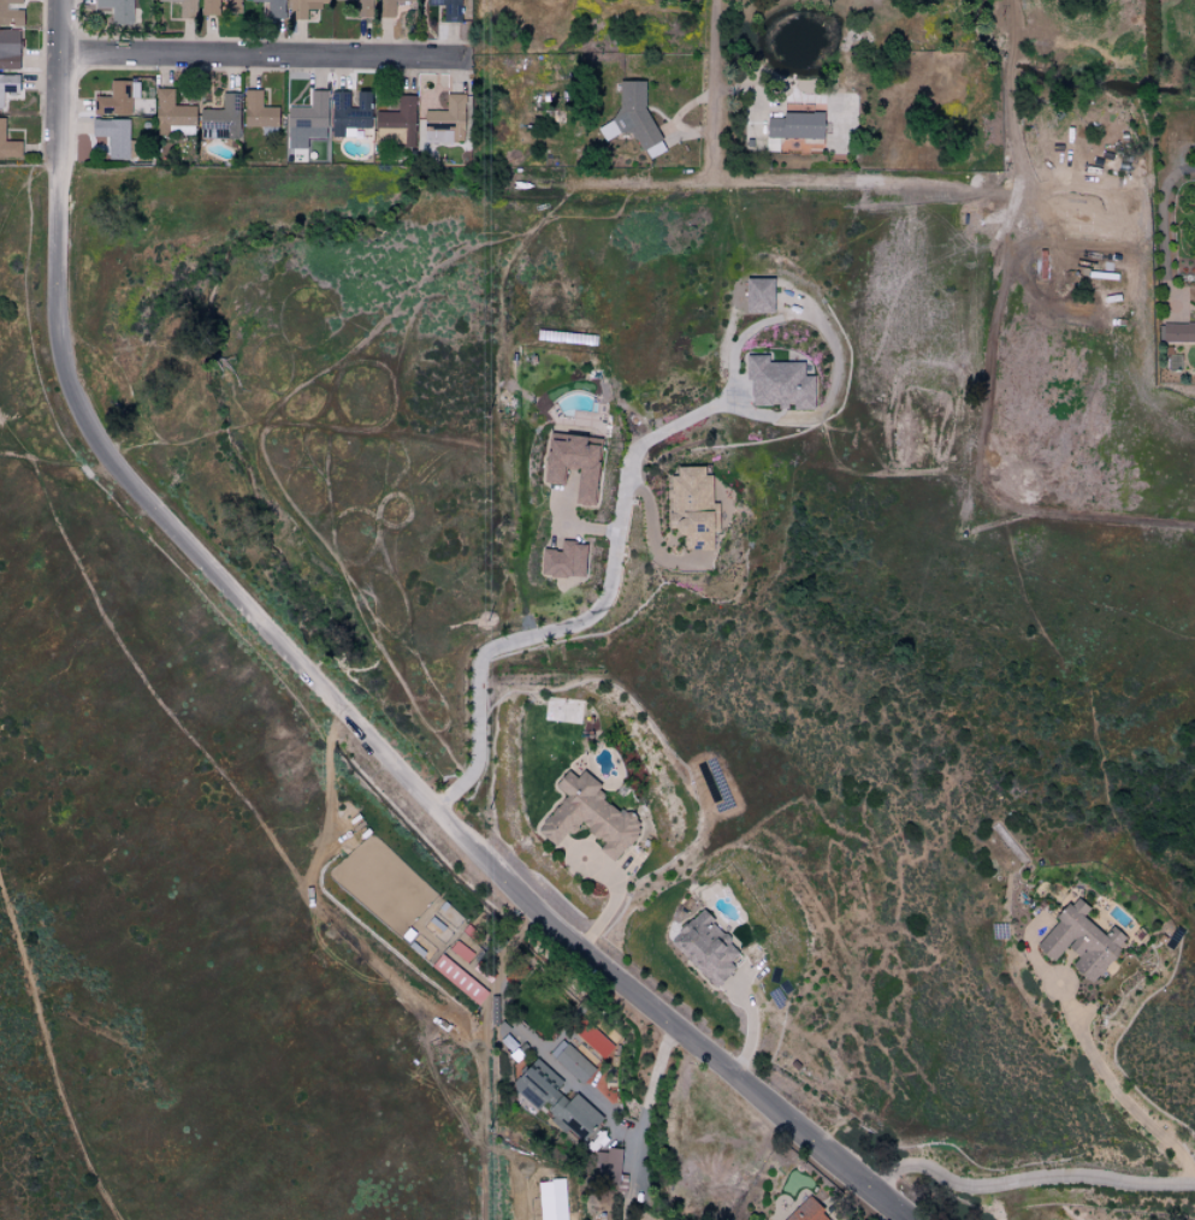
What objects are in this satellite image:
building: (205, 6)
building: (231, 6)
building: (183, 7)
building: (301, 7)
building: (389, 7)
building: (273, 8)
building: (446, 8)
building: (117, 10)
building: (10, 12)
building: (8, 48)
road: (261, 55)
road: (1008, 79)
building: (7, 84)
road: (716, 91)
building: (113, 99)
building: (256, 111)
building: (348, 112)
building: (171, 114)
building: (219, 119)
building: (306, 120)
building: (444, 120)
building: (396, 122)
building: (793, 125)
building: (112, 136)
building: (7, 146)
road: (806, 185)
road: (1164, 213)
building: (757, 294)
building: (1177, 332)
road: (357, 344)
building: (776, 383)
power tower: (486, 408)
road: (5, 434)
road: (634, 454)
building: (570, 463)
road: (54, 470)
building: (691, 508)
building: (562, 561)
power tower: (487, 630)
road: (323, 691)
building: (587, 817)
power tower: (486, 818)
building: (1079, 942)
building: (705, 948)
building: (457, 978)
road: (51, 1053)
building: (573, 1064)
building: (534, 1083)
road: (1117, 1092)
building: (572, 1115)
road: (628, 1137)
power tower: (489, 1138)
road: (1027, 1179)
building: (805, 1212)

